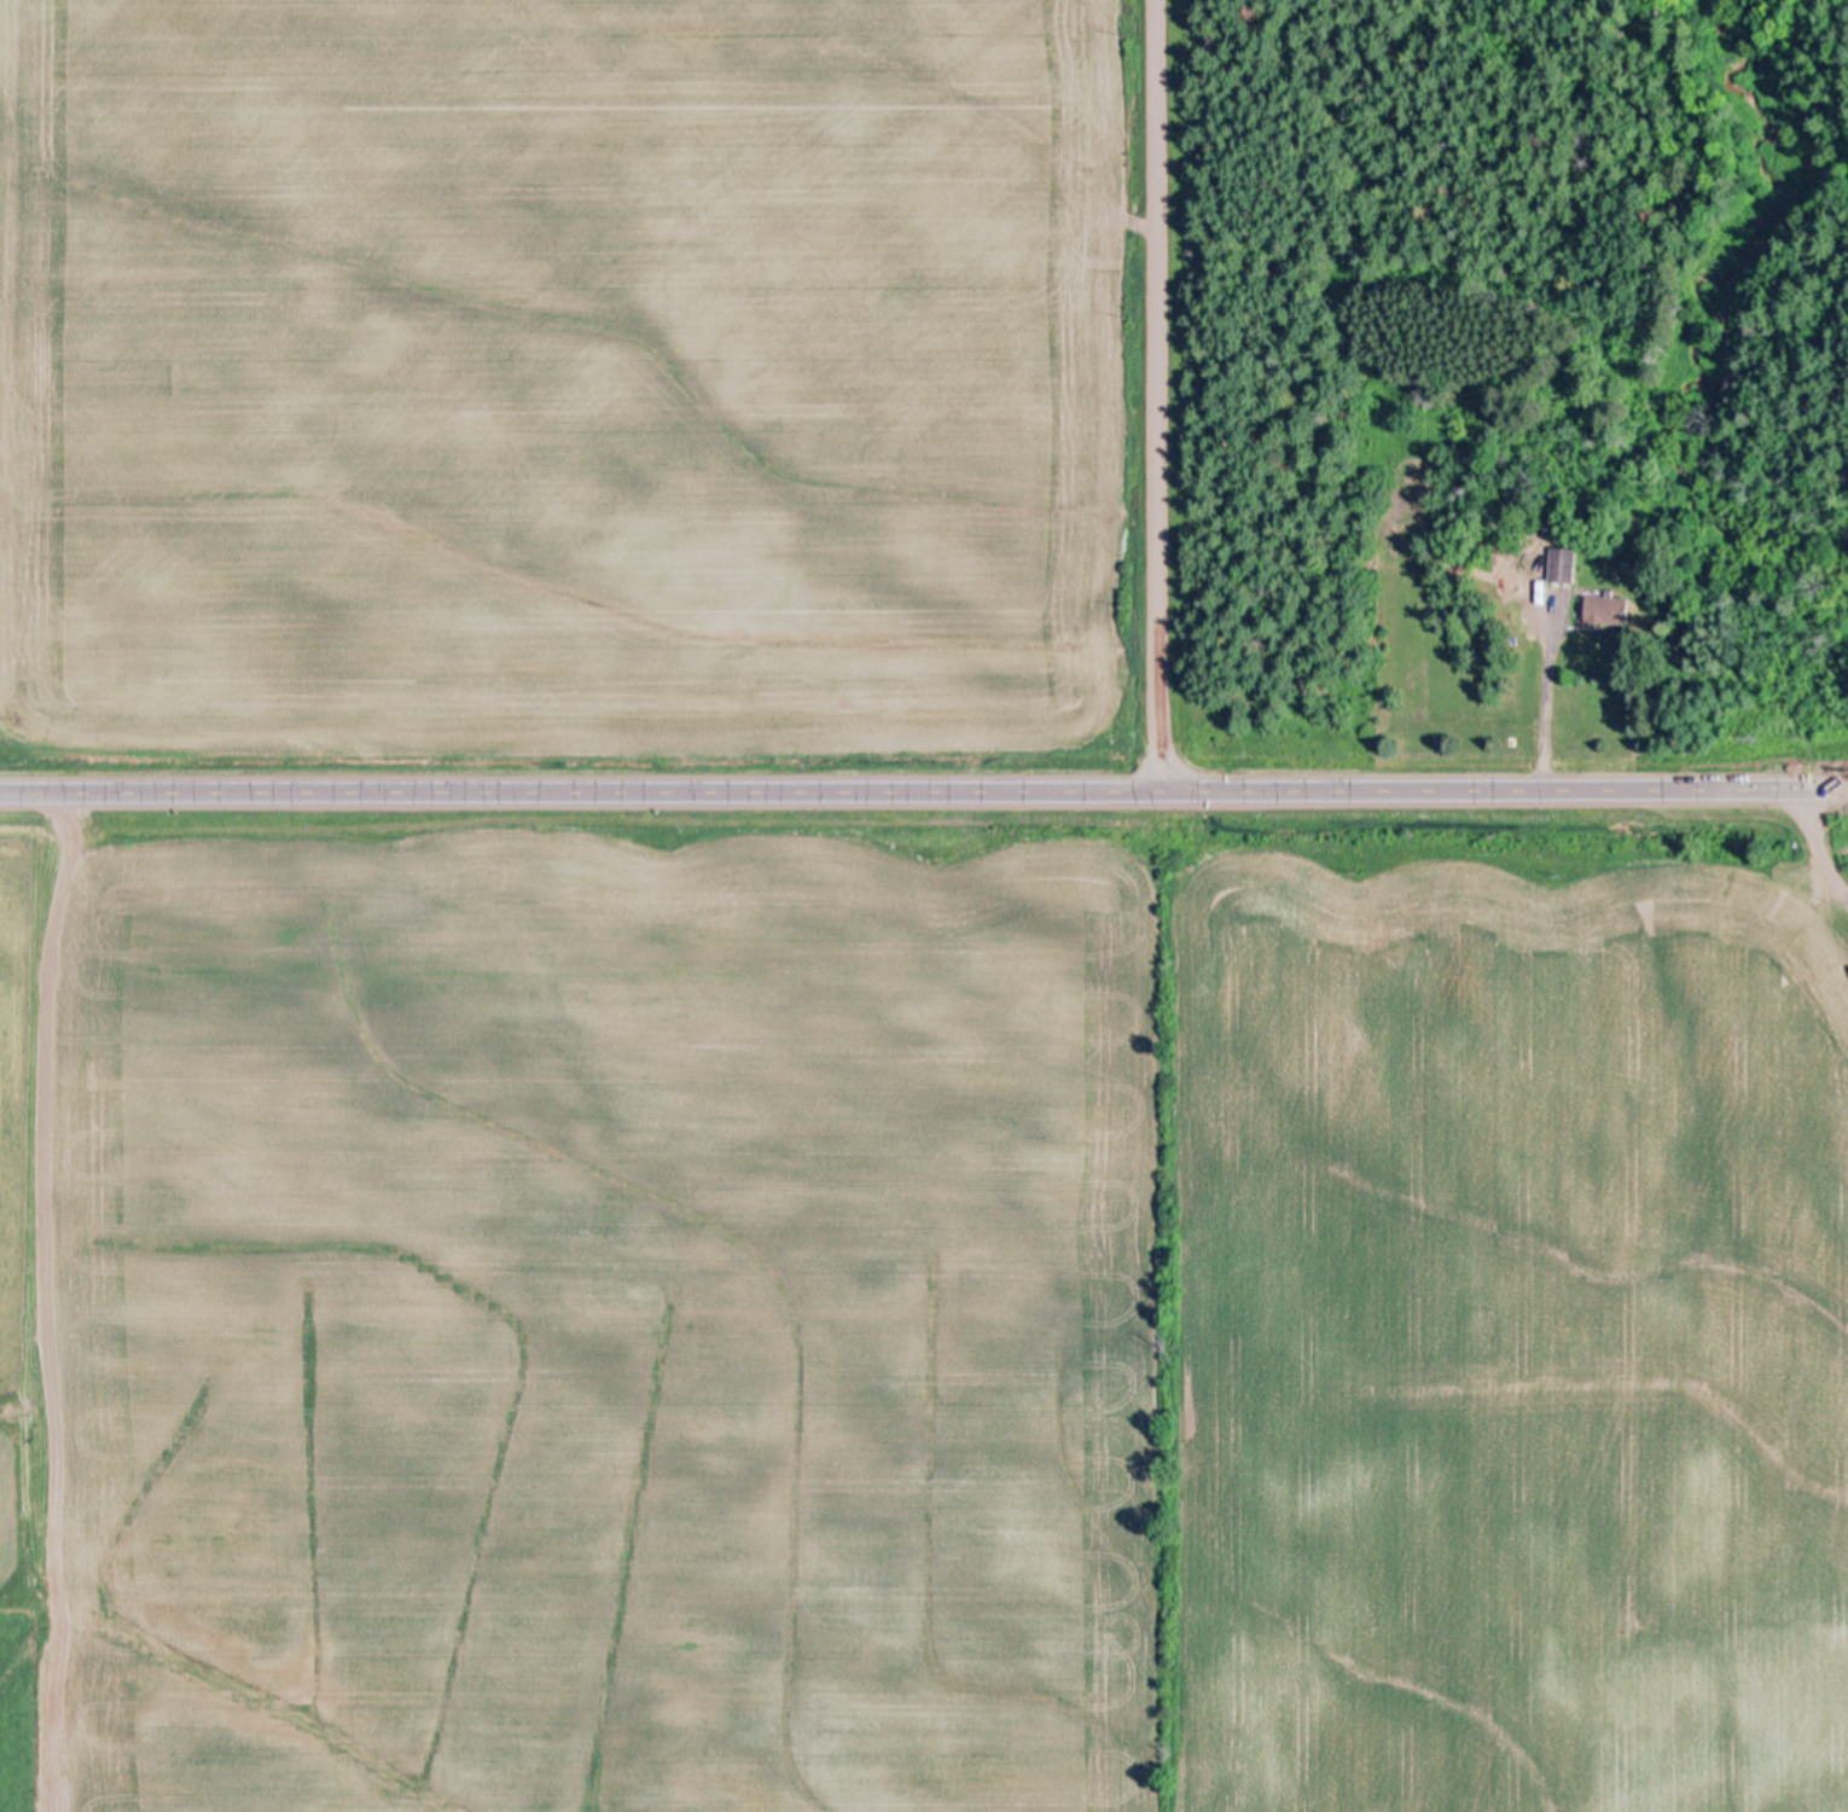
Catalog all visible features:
road: (1210, 399)
building: (1564, 563)
building: (1610, 608)
road: (923, 797)
road: (1784, 884)

